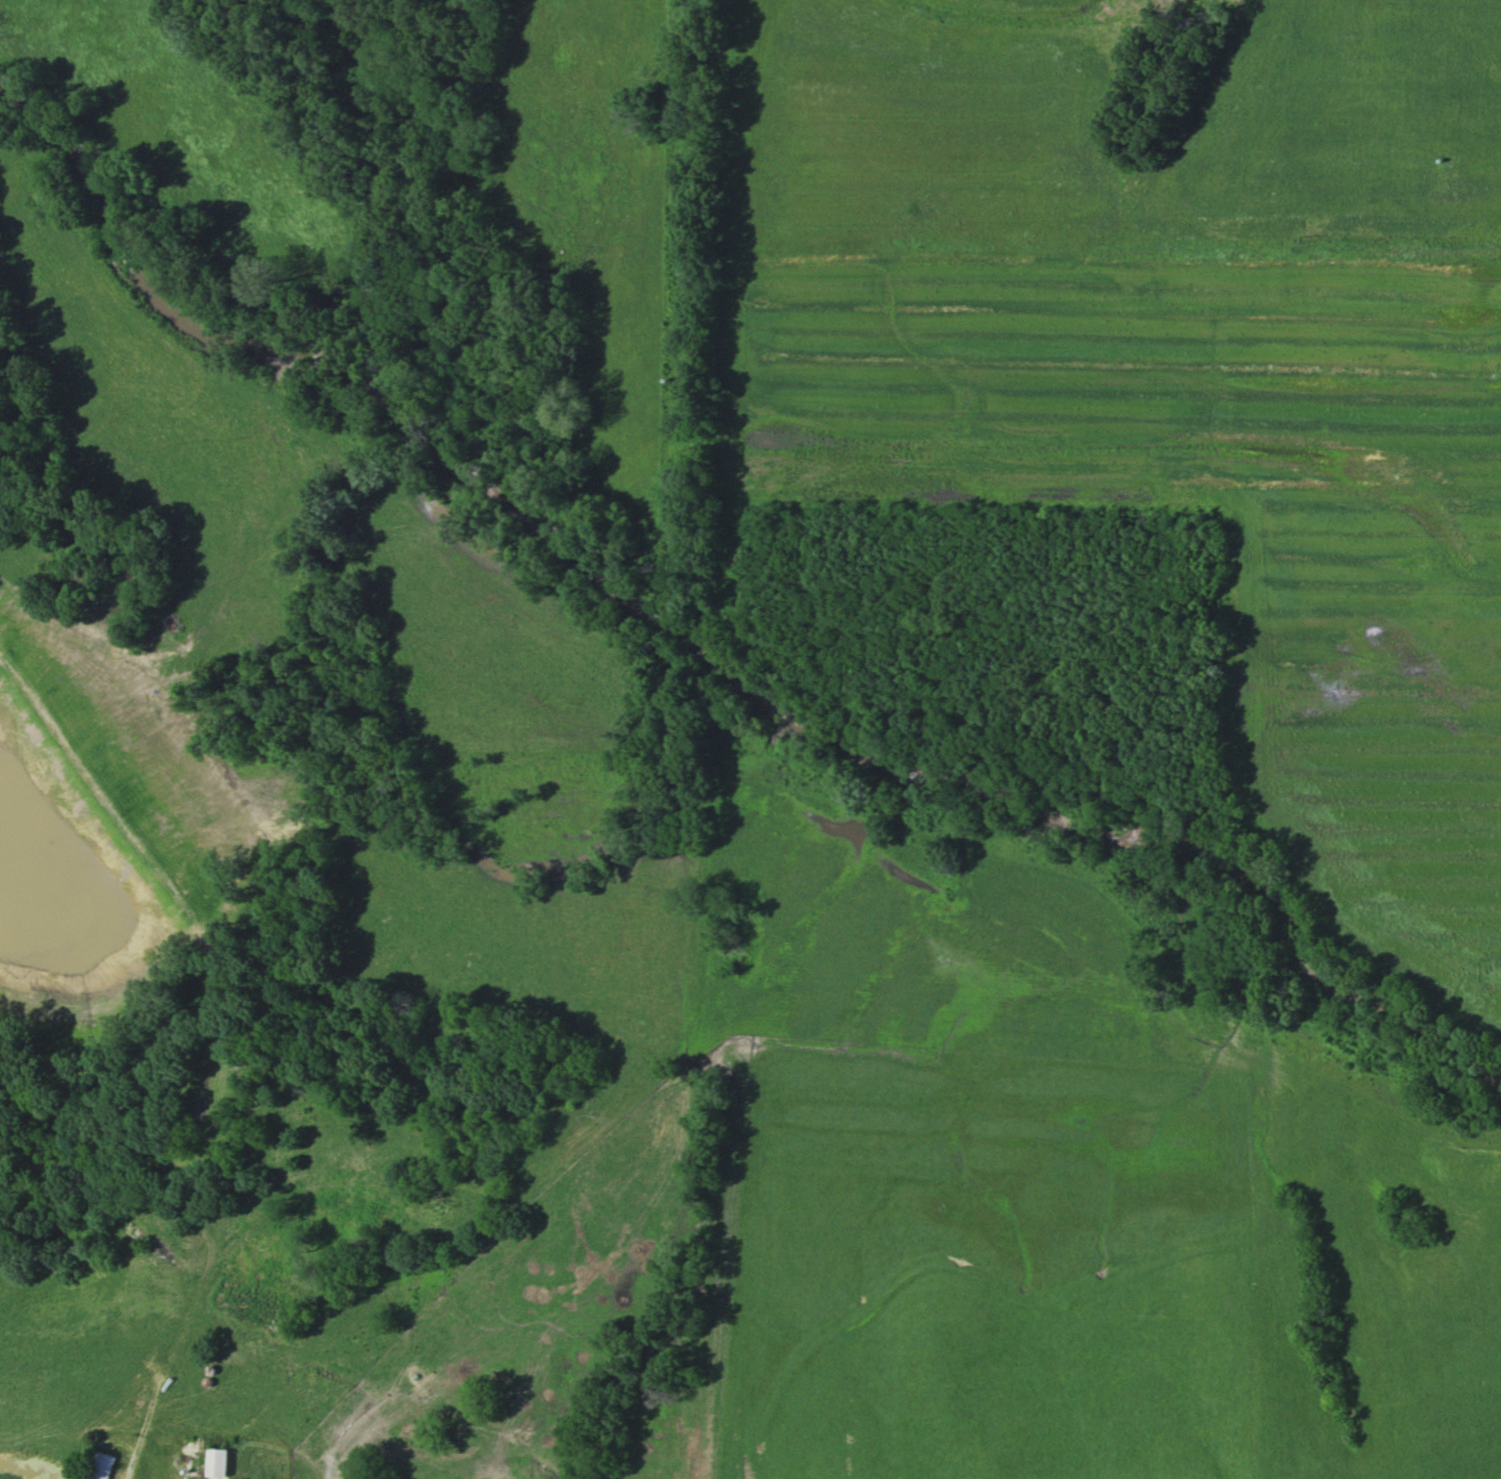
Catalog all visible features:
building: (222, 1463)
building: (189, 1466)
building: (98, 1476)

